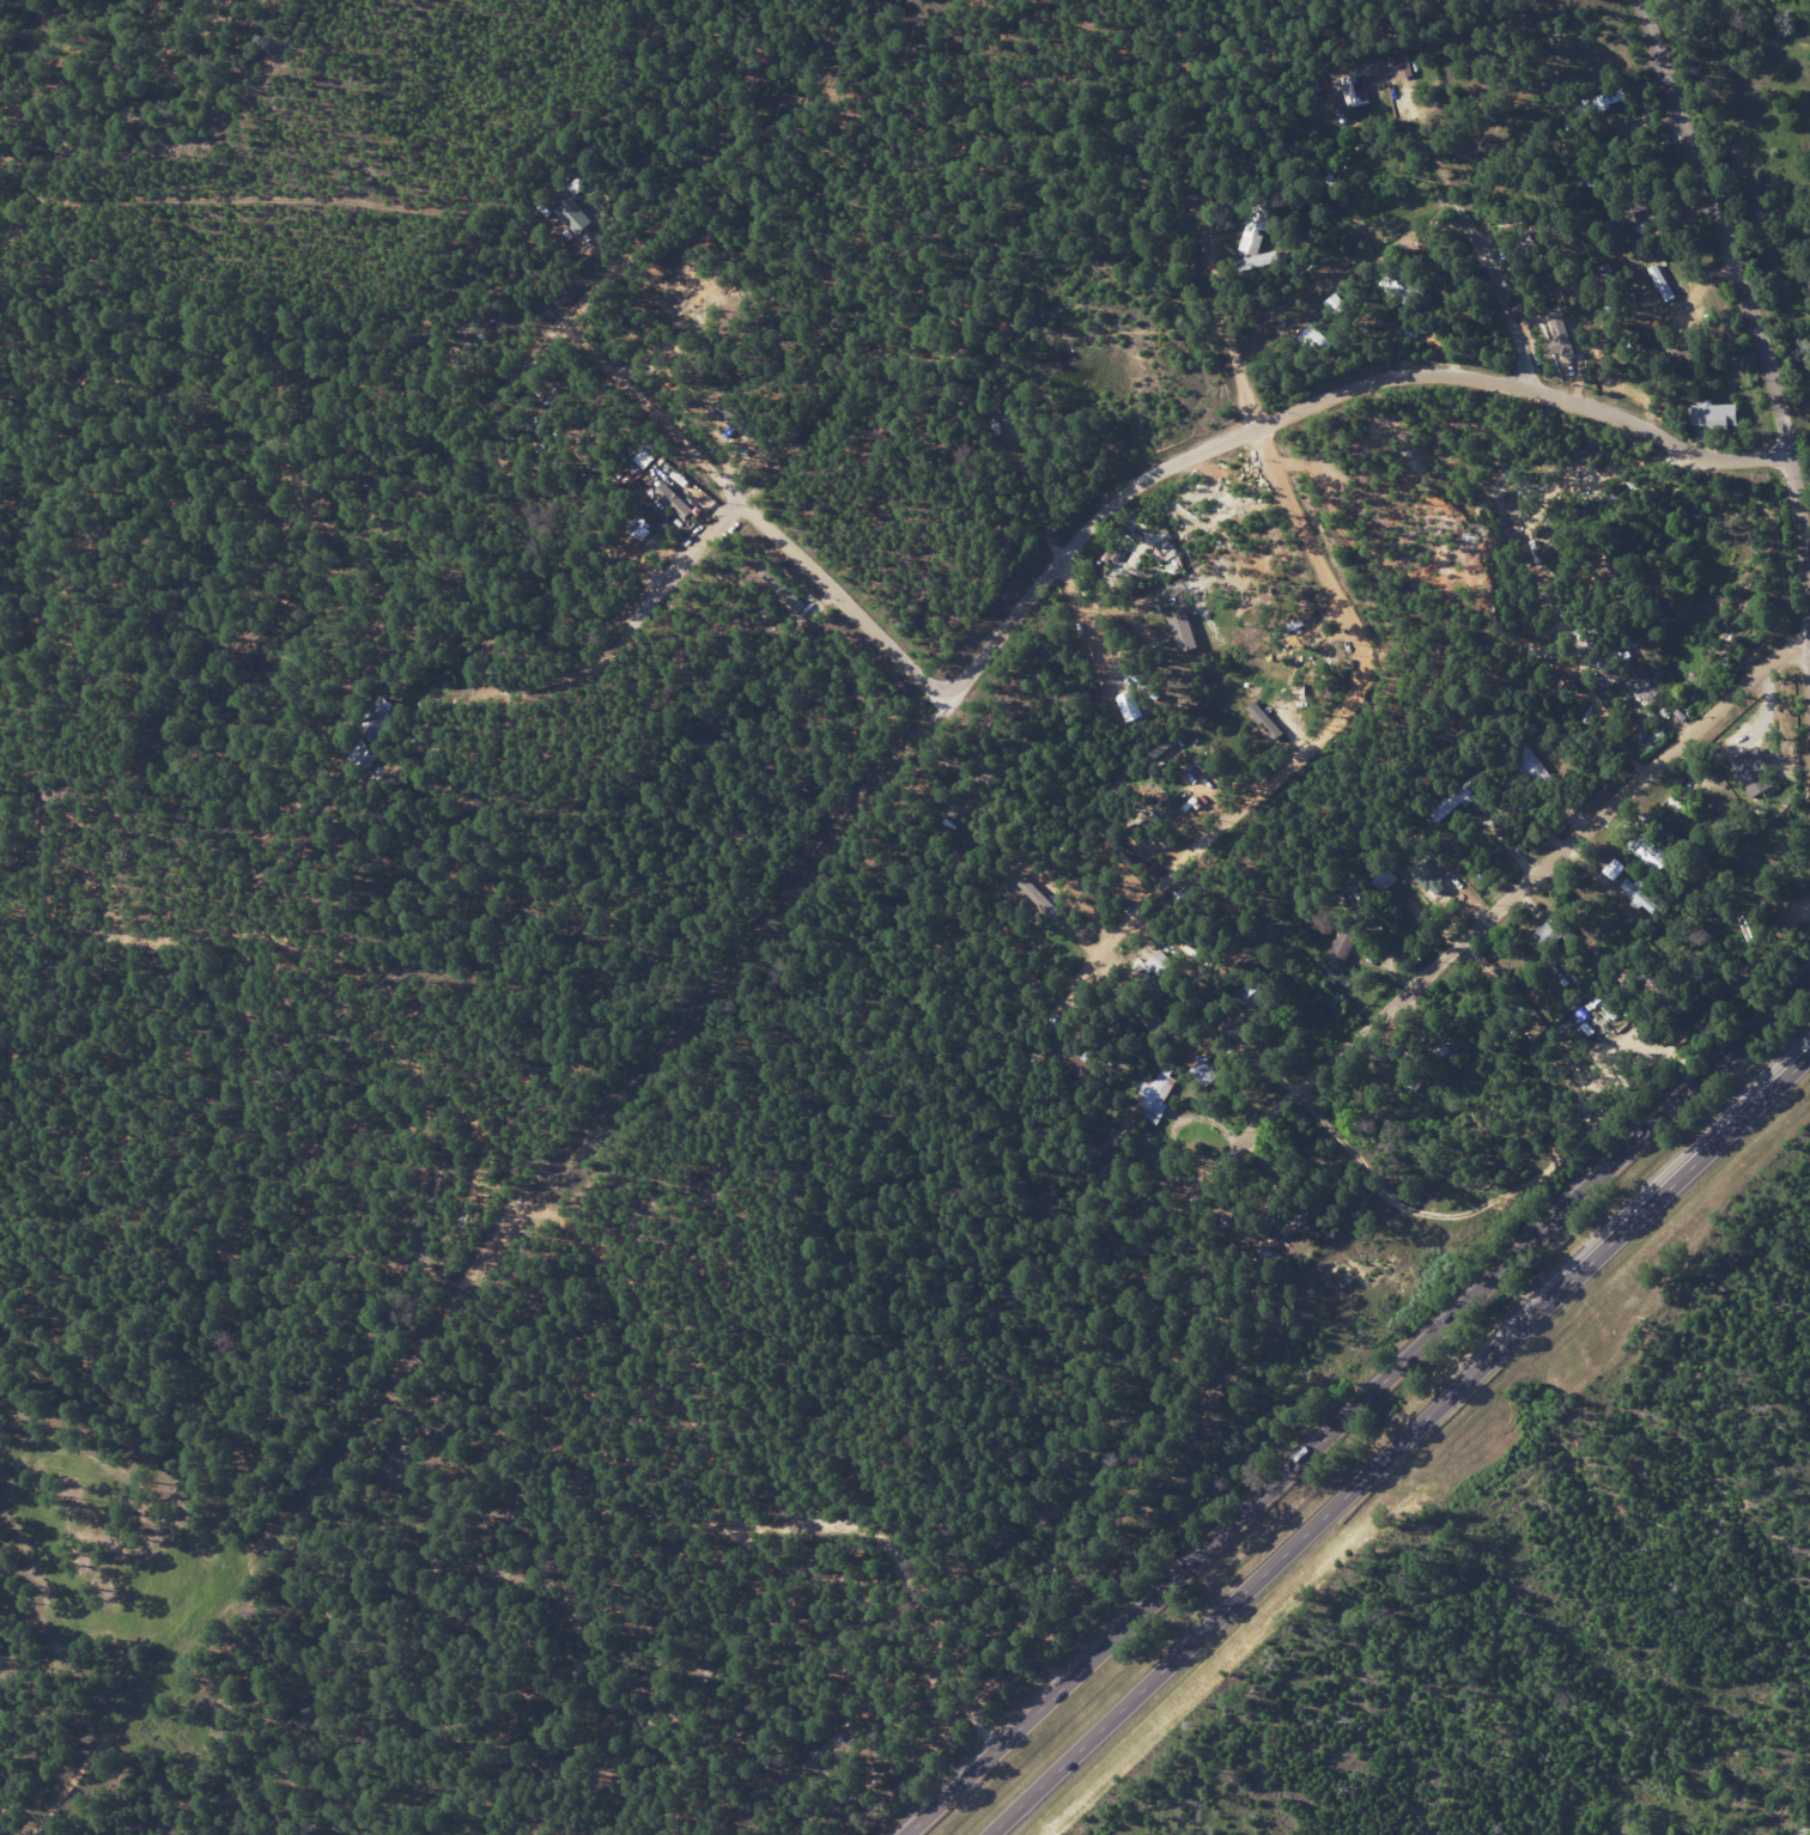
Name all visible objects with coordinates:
road: (1545, 89)
building: (1349, 91)
building: (1253, 233)
road: (1480, 249)
building: (1656, 273)
road: (1205, 281)
road: (1745, 281)
road: (577, 298)
road: (545, 333)
building: (1563, 336)
road: (1312, 402)
building: (1712, 414)
road: (781, 446)
road: (1021, 474)
building: (673, 500)
road: (751, 511)
road: (1094, 598)
road: (633, 621)
building: (1126, 705)
road: (1318, 736)
building: (1750, 772)
building: (1648, 851)
building: (1612, 868)
building: (1431, 876)
building: (1639, 897)
road: (1500, 906)
building: (1341, 944)
building: (1204, 1070)
building: (1158, 1092)
road: (1357, 1405)
road: (1399, 1444)
park: (1580, 1609)
road: (1806, 1833)

